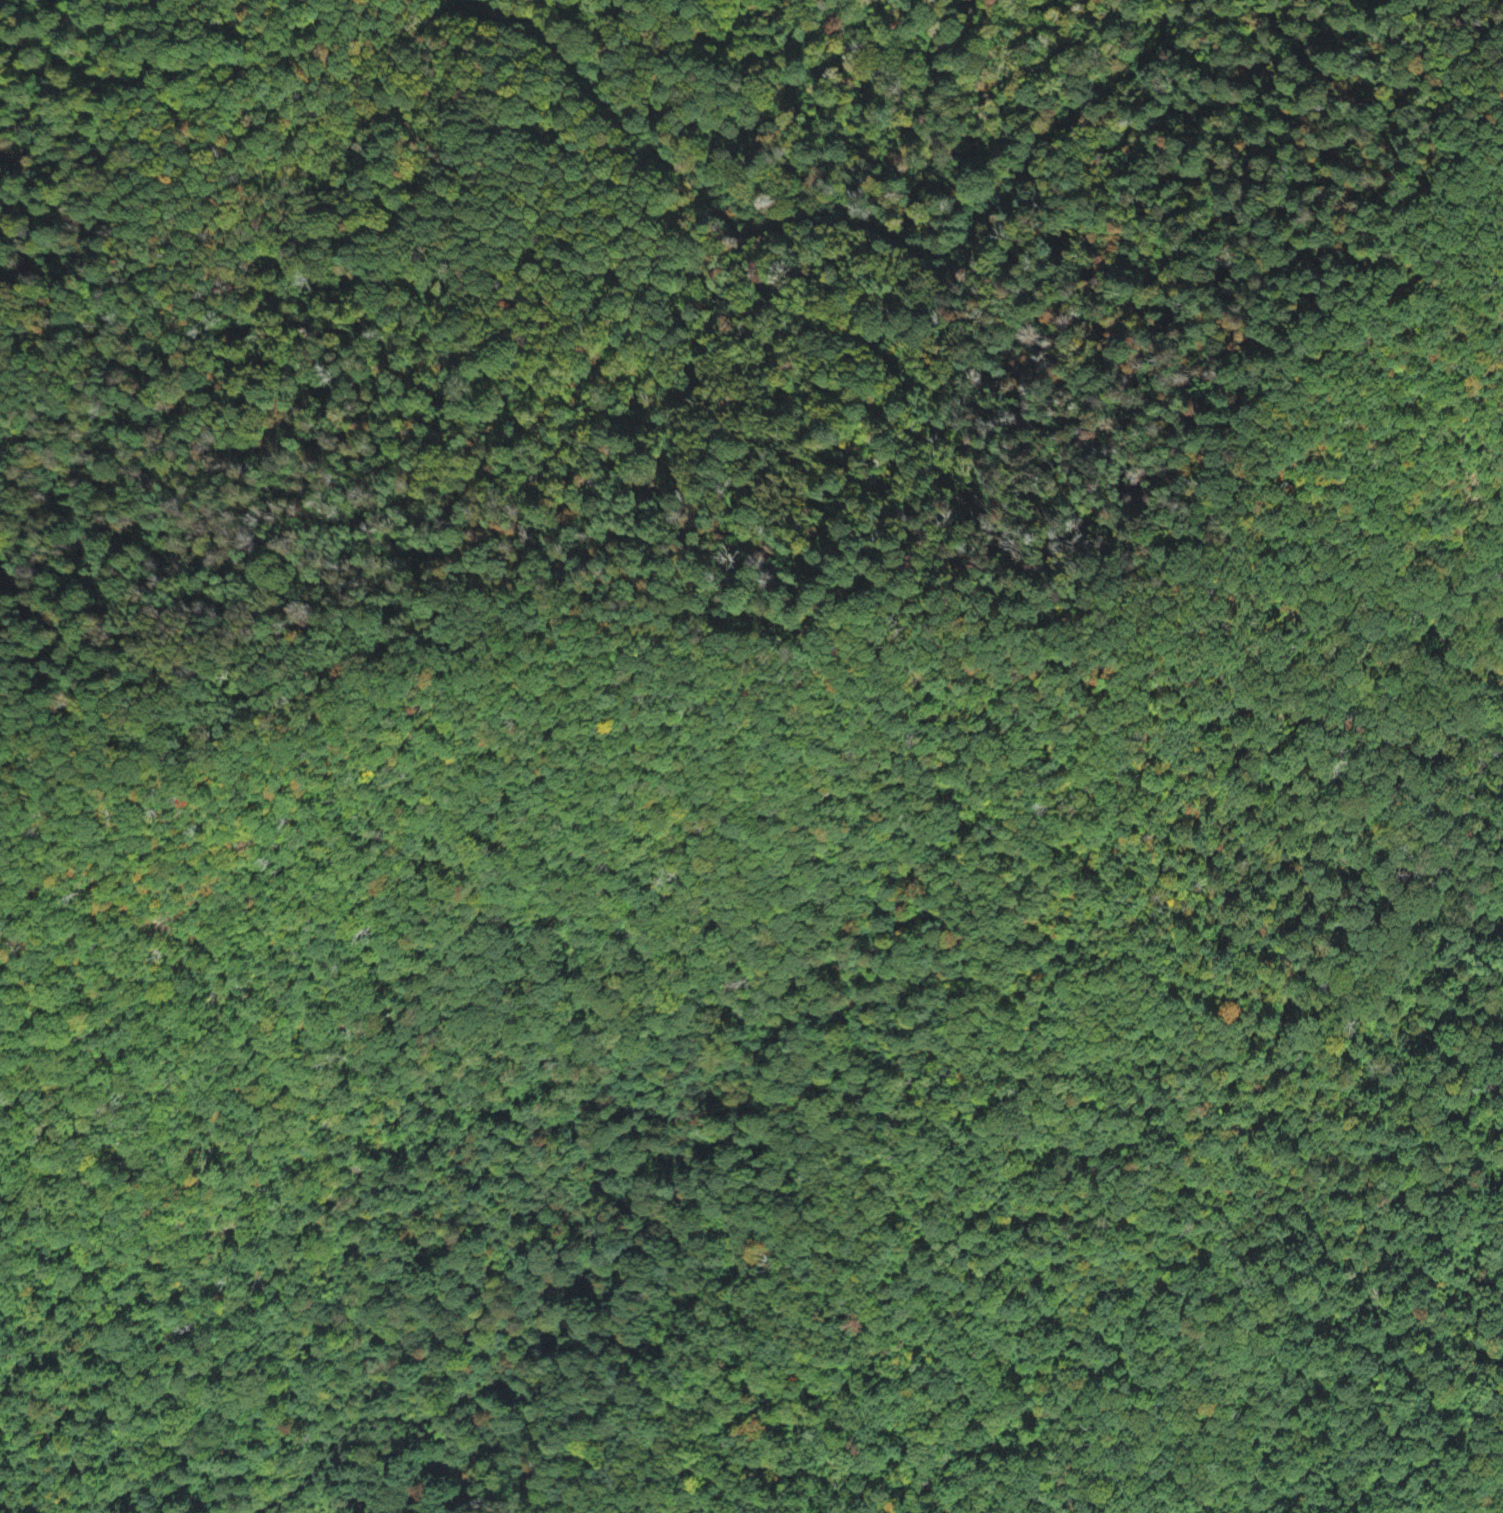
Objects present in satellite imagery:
road: (1437, 1480)

